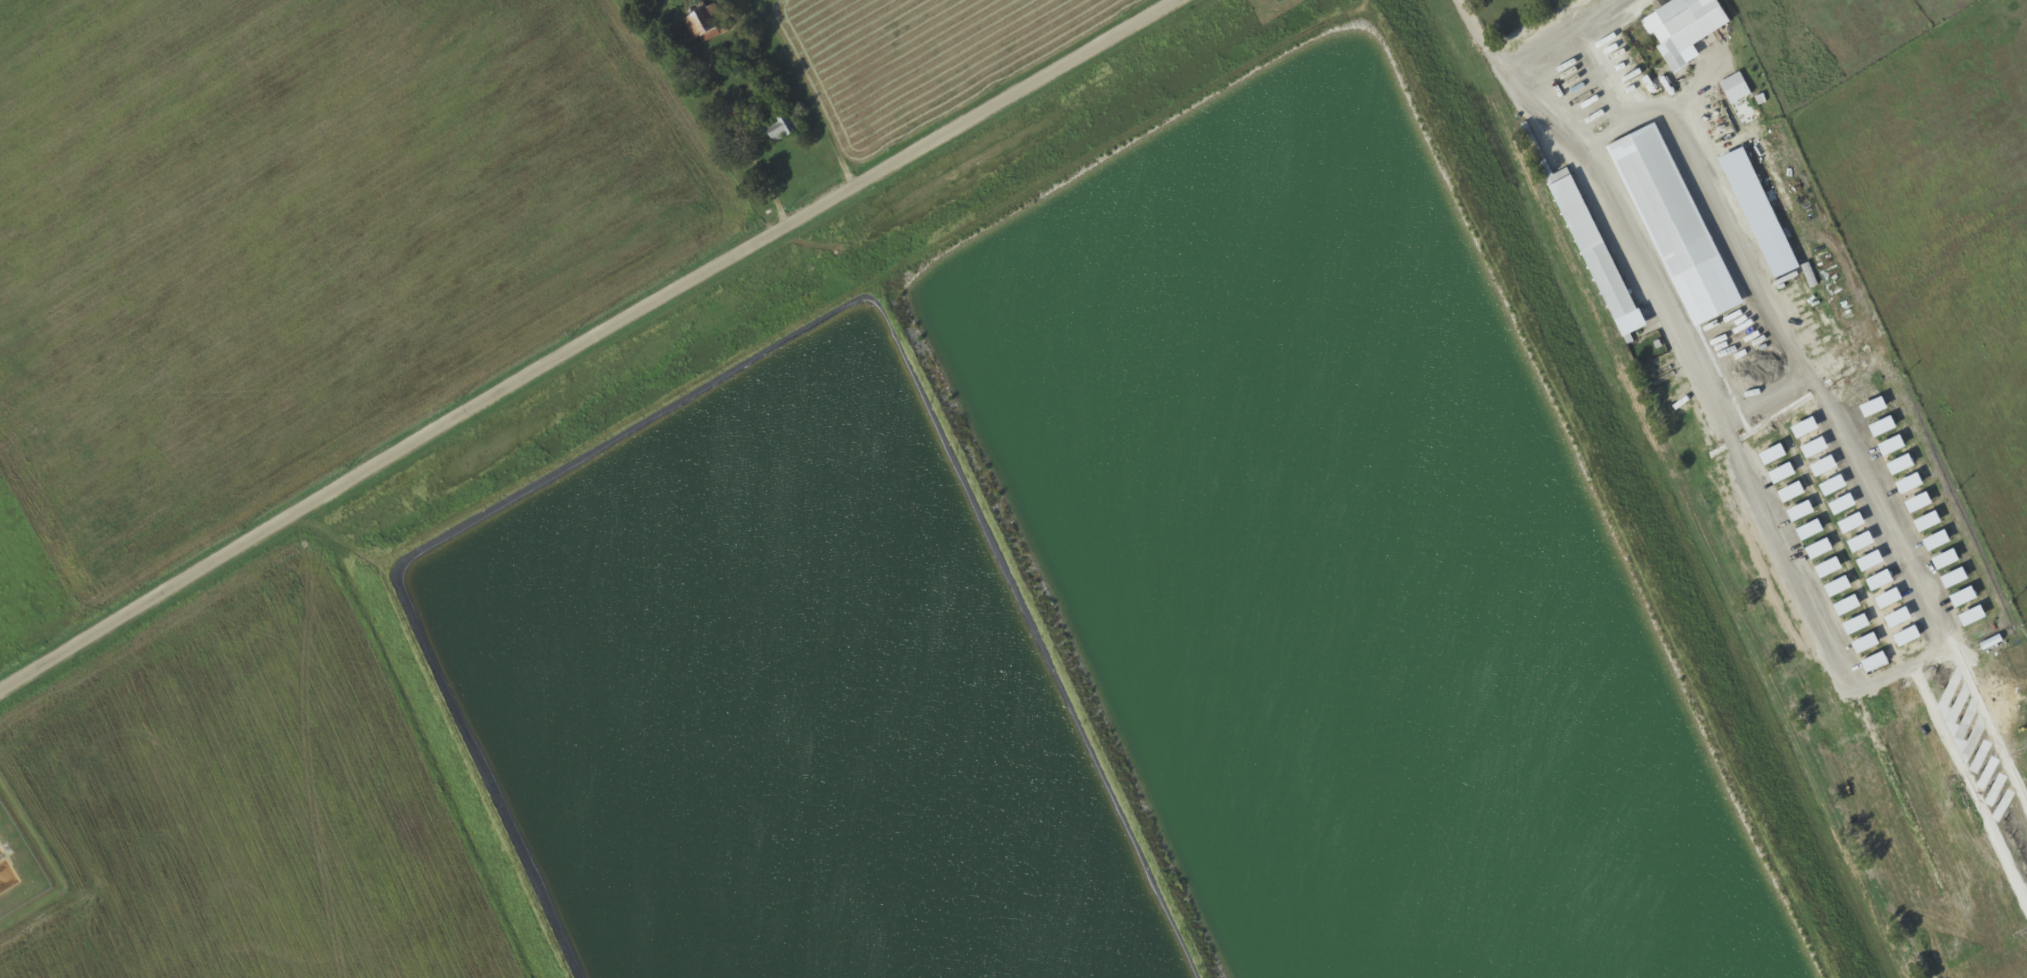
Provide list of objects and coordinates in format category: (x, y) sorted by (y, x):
building: (1579, 3)
building: (1678, 17)
building: (707, 25)
road: (1561, 37)
building: (785, 127)
road: (1681, 340)
road: (591, 347)

